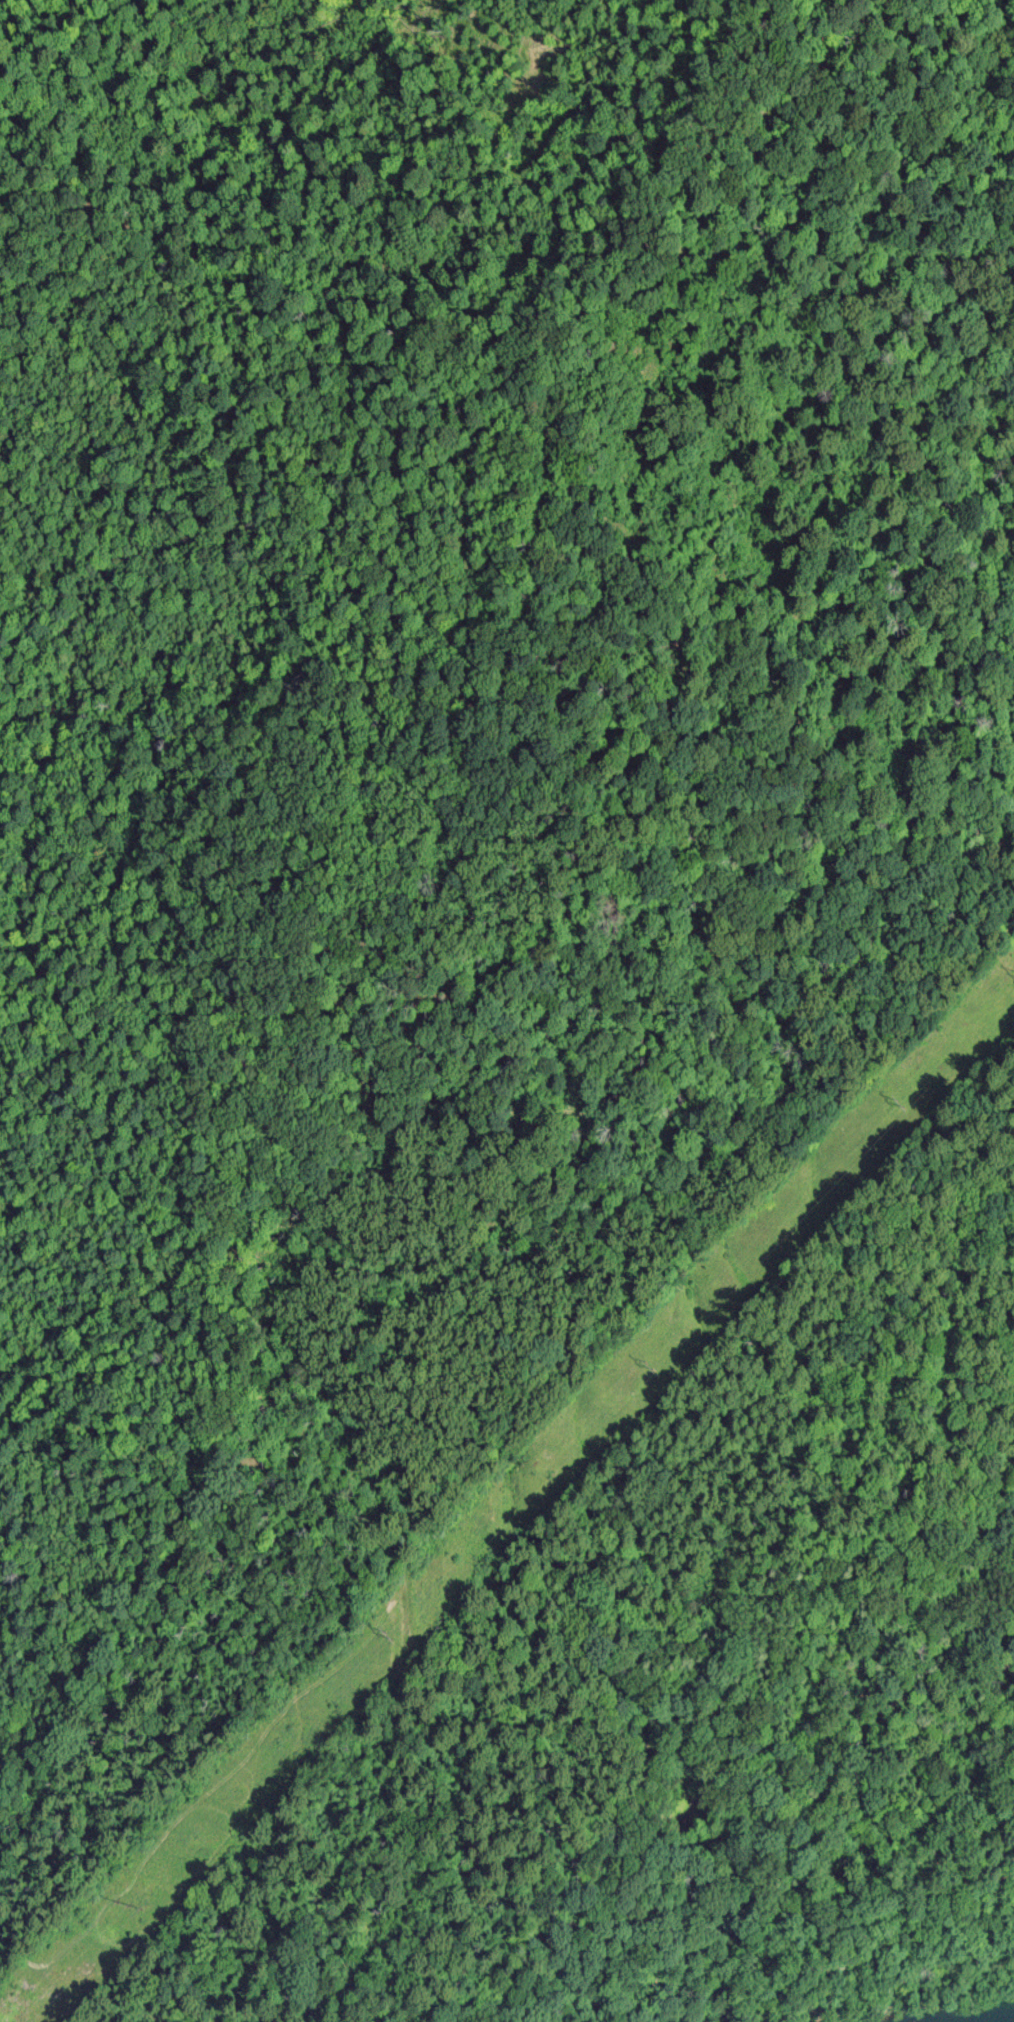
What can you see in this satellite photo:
power tower: (389, 1627)
road: (269, 1988)

